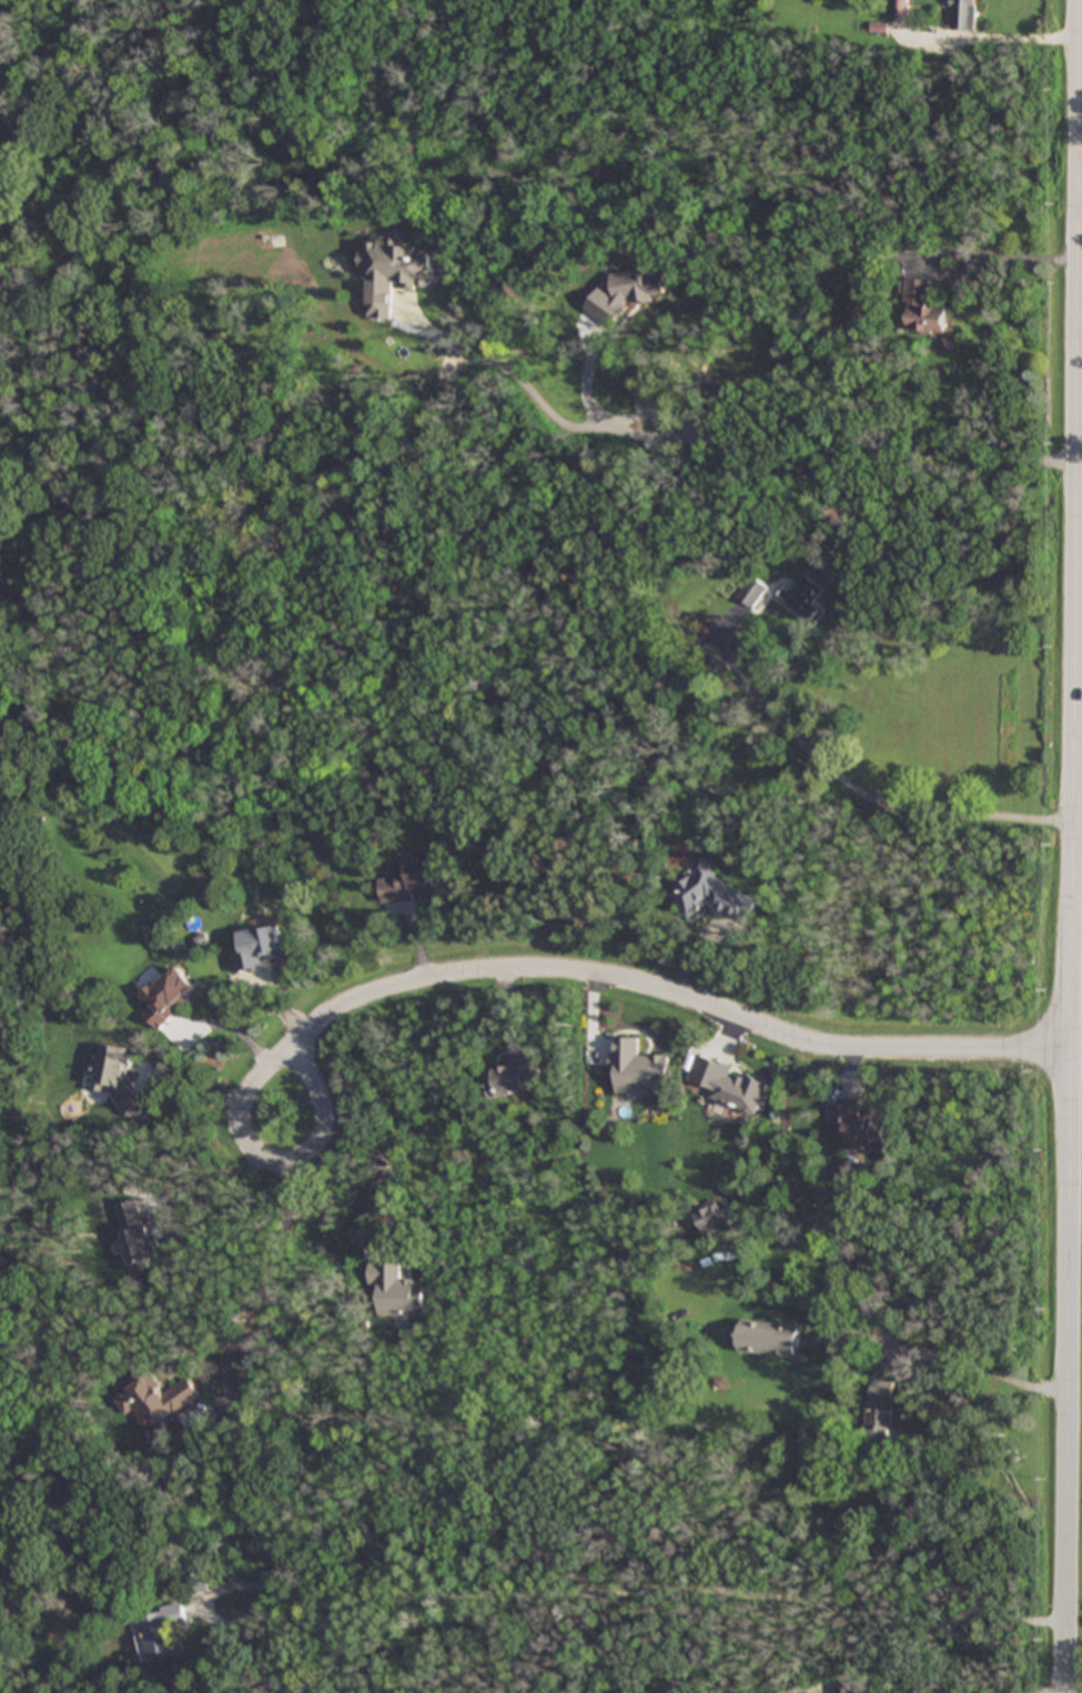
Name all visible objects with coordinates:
building: (901, 9)
building: (963, 14)
building: (394, 270)
building: (626, 292)
building: (858, 304)
building: (923, 309)
road: (1079, 349)
road: (719, 436)
road: (1078, 577)
building: (752, 589)
building: (800, 594)
road: (855, 788)
road: (1072, 846)
building: (414, 877)
building: (712, 893)
building: (257, 948)
building: (168, 995)
road: (680, 996)
road: (226, 1025)
building: (638, 1068)
building: (512, 1076)
building: (118, 1078)
building: (730, 1084)
building: (857, 1126)
road: (378, 1158)
road: (270, 1160)
building: (709, 1217)
building: (136, 1235)
building: (395, 1289)
building: (769, 1337)
road: (967, 1360)
building: (156, 1399)
building: (879, 1420)
road: (863, 1516)
building: (162, 1630)
building: (846, 1689)
road: (1056, 1690)

